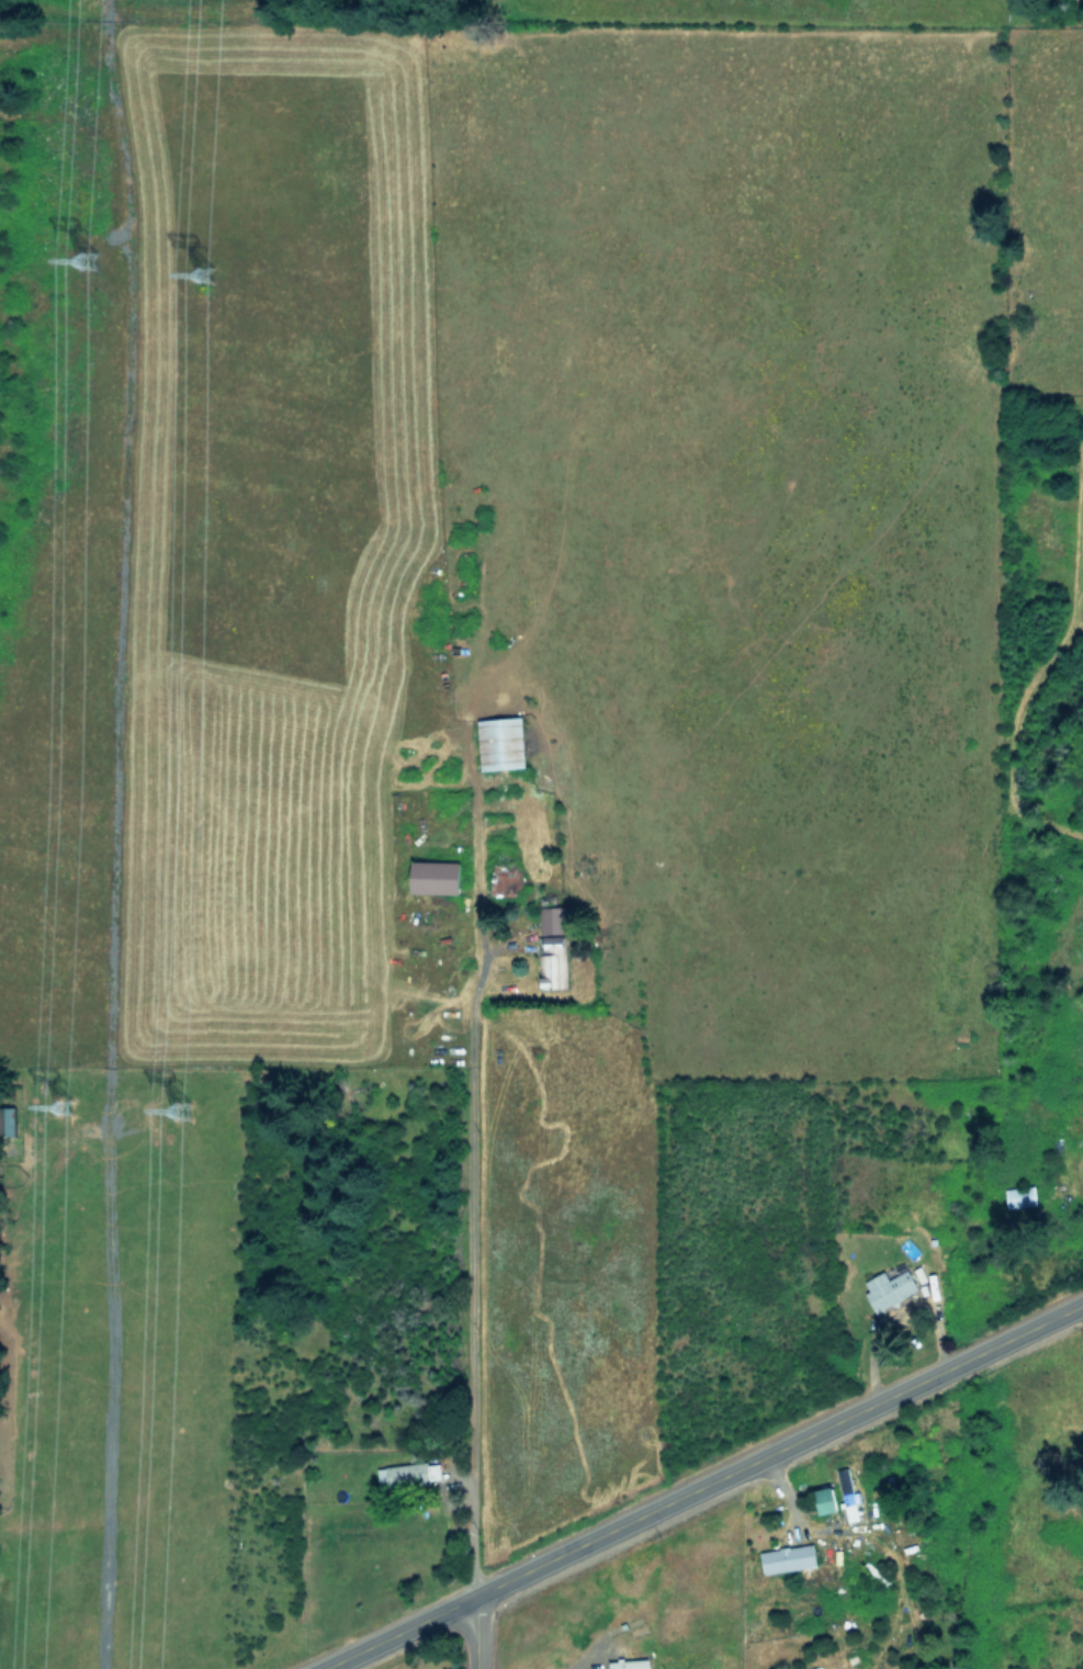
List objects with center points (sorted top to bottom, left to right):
power tower: (89, 277)
power tower: (208, 289)
building: (501, 742)
building: (436, 876)
building: (553, 920)
building: (553, 961)
power tower: (71, 1113)
power tower: (192, 1114)
building: (1022, 1195)
building: (889, 1287)
road: (472, 1301)
building: (411, 1474)
road: (702, 1484)
building: (849, 1497)
building: (827, 1499)
building: (788, 1558)
road: (472, 1633)
building: (629, 1664)

